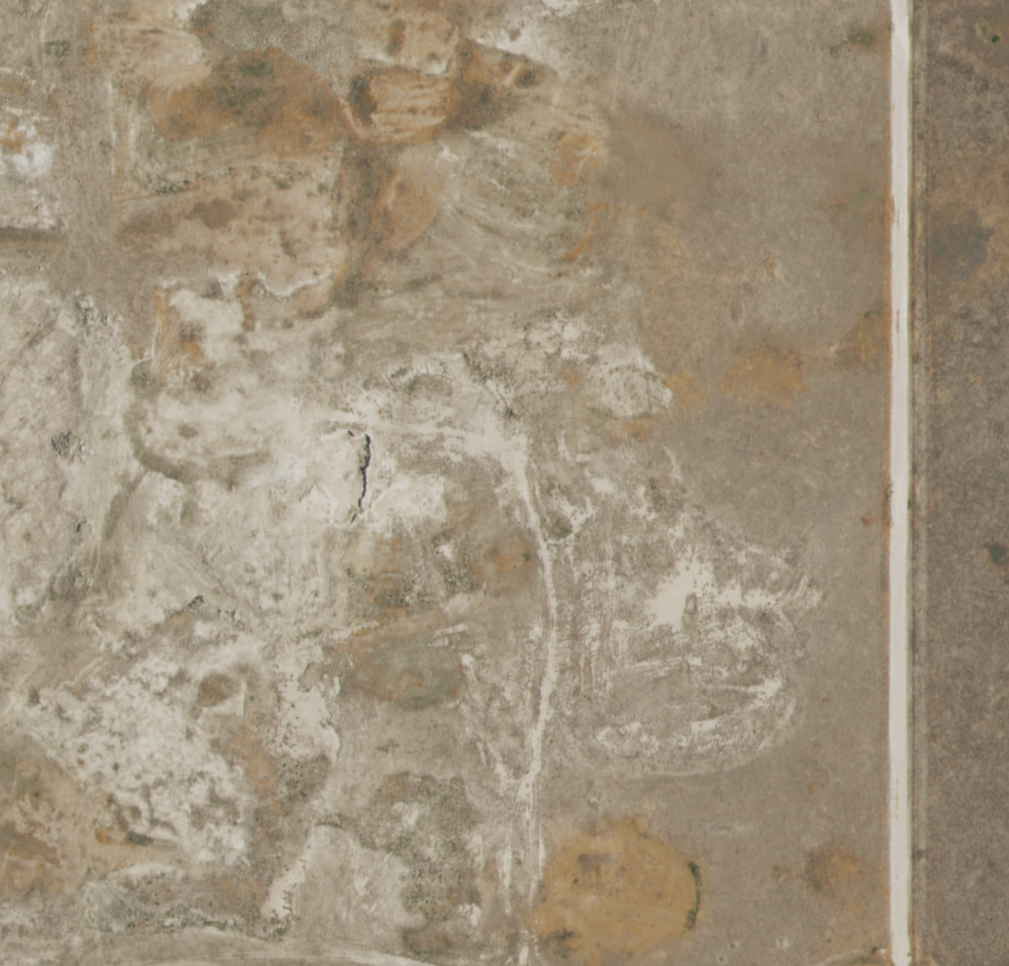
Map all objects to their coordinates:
road: (897, 483)

